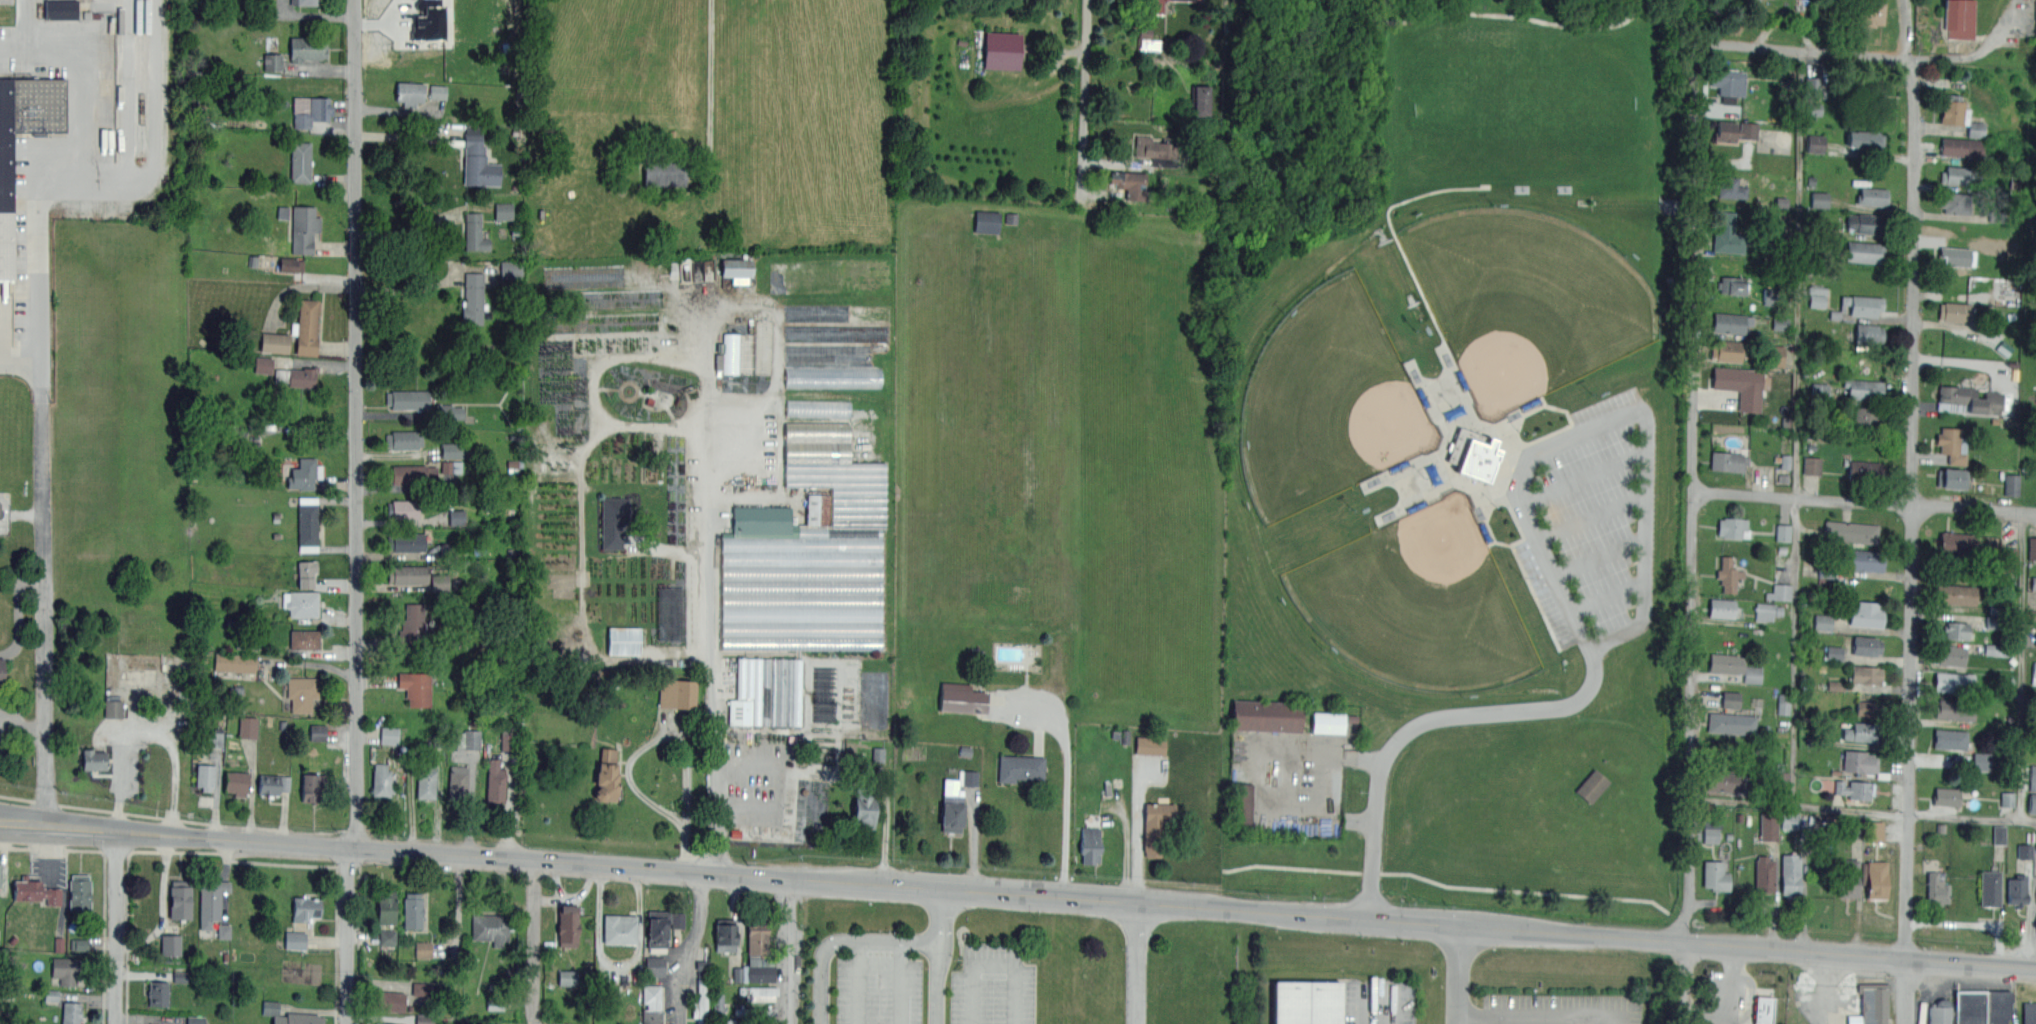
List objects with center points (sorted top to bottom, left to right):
building: (1190, 0)
building: (304, 2)
building: (1151, 6)
building: (61, 9)
park: (1527, 9)
building: (1869, 12)
building: (1958, 18)
building: (428, 20)
building: (1149, 44)
building: (307, 48)
building: (1002, 50)
road: (1978, 50)
road: (1806, 52)
building: (272, 62)
road: (710, 67)
building: (1728, 84)
building: (1866, 87)
building: (106, 88)
building: (1812, 88)
building: (409, 92)
building: (438, 92)
building: (1201, 100)
road: (1083, 103)
building: (1813, 110)
building: (314, 112)
building: (1958, 115)
building: (1736, 131)
building: (1865, 140)
building: (1816, 143)
building: (1963, 148)
building: (1155, 150)
building: (477, 159)
building: (300, 161)
building: (665, 173)
road: (65, 174)
building: (1957, 175)
building: (1130, 184)
building: (1730, 187)
building: (1873, 197)
building: (1820, 199)
building: (1955, 203)
building: (6, 207)
building: (503, 211)
building: (987, 221)
building: (1866, 223)
building: (304, 228)
building: (475, 232)
building: (1728, 235)
building: (1864, 251)
building: (1954, 257)
building: (291, 264)
building: (737, 270)
building: (512, 272)
building: (1732, 284)
road: (406, 286)
building: (1817, 296)
building: (474, 298)
building: (1863, 304)
park: (1528, 305)
building: (1953, 311)
building: (1730, 322)
building: (306, 327)
building: (1868, 333)
building: (274, 342)
building: (1726, 350)
building: (854, 352)
building: (728, 354)
building: (753, 356)
building: (1776, 356)
building: (263, 365)
building: (297, 375)
building: (833, 377)
building: (1739, 385)
building: (1862, 389)
building: (408, 398)
building: (1969, 400)
park: (1333, 404)
building: (818, 408)
building: (450, 412)
building: (1867, 415)
road: (1599, 421)
road: (356, 424)
building: (404, 439)
building: (1952, 445)
building: (452, 450)
building: (1477, 459)
building: (1727, 461)
building: (1812, 465)
building: (1865, 470)
building: (305, 473)
building: (412, 473)
building: (1951, 479)
building: (2012, 485)
road: (1693, 490)
road: (1864, 503)
road: (1914, 504)
building: (404, 508)
building: (456, 515)
building: (613, 521)
building: (307, 523)
building: (1732, 528)
building: (1851, 531)
building: (1783, 533)
building: (407, 542)
building: (1955, 545)
building: (2032, 549)
building: (808, 552)
building: (2011, 557)
building: (1865, 560)
building: (305, 573)
building: (408, 573)
building: (1729, 574)
building: (2033, 583)
building: (440, 584)
building: (1780, 592)
building: (1956, 595)
building: (301, 602)
park: (1421, 602)
building: (1721, 608)
road: (712, 609)
road: (18, 611)
building: (1767, 611)
road: (44, 613)
building: (671, 614)
building: (1866, 614)
building: (1823, 622)
building: (413, 626)
building: (1959, 632)
building: (304, 639)
building: (624, 641)
building: (2035, 644)
building: (1866, 646)
building: (1994, 650)
road: (1795, 651)
building: (1834, 653)
building: (1949, 655)
building: (235, 662)
building: (1725, 664)
road: (2022, 664)
building: (1, 671)
building: (138, 672)
building: (2034, 673)
building: (1753, 674)
building: (1866, 674)
building: (1953, 682)
building: (1836, 685)
building: (416, 687)
building: (767, 691)
building: (301, 693)
building: (677, 694)
building: (961, 699)
building: (1730, 700)
building: (1783, 705)
building: (113, 708)
building: (1865, 709)
building: (1955, 710)
building: (1266, 716)
road: (1433, 721)
road: (22, 723)
building: (1328, 723)
building: (1731, 723)
parking lot: (12, 725)
building: (248, 727)
building: (1862, 731)
road: (146, 732)
building: (317, 733)
building: (389, 735)
building: (215, 737)
building: (506, 738)
building: (469, 739)
building: (1950, 739)
building: (1150, 745)
road: (634, 754)
building: (93, 759)
road: (773, 762)
building: (1982, 762)
building: (1862, 763)
building: (1020, 767)
building: (606, 775)
building: (205, 776)
building: (2031, 777)
building: (968, 778)
building: (1782, 779)
building: (382, 780)
building: (426, 780)
building: (495, 781)
building: (1723, 781)
building: (235, 782)
building: (458, 782)
building: (272, 784)
building: (311, 786)
building: (1592, 786)
building: (1856, 789)
road: (1066, 791)
building: (1946, 797)
road: (471, 799)
building: (2007, 799)
building: (1244, 803)
road: (1799, 804)
building: (2032, 804)
road: (510, 806)
building: (863, 807)
building: (951, 807)
road: (747, 813)
road: (1972, 816)
building: (1790, 821)
road: (23, 824)
building: (1768, 826)
building: (1154, 827)
road: (885, 830)
road: (1139, 832)
building: (1711, 832)
building: (1875, 832)
building: (1999, 834)
road: (975, 840)
road: (1375, 841)
building: (1089, 845)
building: (2025, 851)
building: (0, 870)
building: (1764, 874)
building: (1790, 874)
building: (1714, 875)
building: (1847, 877)
building: (1875, 879)
building: (1990, 888)
building: (1936, 889)
building: (2017, 889)
building: (36, 891)
building: (79, 892)
road: (1041, 896)
building: (179, 900)
building: (211, 901)
building: (386, 905)
building: (304, 908)
building: (411, 909)
building: (678, 920)
road: (1968, 923)
building: (568, 924)
road: (116, 927)
building: (491, 927)
building: (619, 928)
building: (657, 930)
building: (223, 931)
building: (724, 934)
road: (348, 936)
building: (387, 937)
road: (840, 938)
building: (295, 940)
building: (757, 941)
road: (527, 943)
building: (81, 944)
building: (170, 945)
road: (687, 947)
building: (437, 949)
road: (791, 951)
road: (936, 956)
building: (702, 963)
road: (1137, 963)
road: (995, 964)
building: (655, 965)
building: (65, 970)
building: (760, 972)
road: (1458, 975)
building: (568, 978)
road: (1681, 979)
road: (859, 981)
road: (900, 981)
road: (1826, 984)
parking lot: (993, 986)
road: (1905, 986)
building: (757, 989)
parking lot: (880, 989)
building: (158, 993)
parking lot: (1825, 996)
parking lot: (1729, 997)
building: (386, 1000)
building: (701, 1001)
building: (1307, 1001)
parking lot: (1377, 1001)
building: (718, 1003)
building: (651, 1004)
road: (1363, 1004)
road: (1731, 1004)
building: (1871, 1004)
building: (1997, 1007)
parking lot: (1563, 1008)
building: (1763, 1008)
building: (1959, 1009)
building: (755, 1011)
building: (70, 1012)
building: (2029, 1013)
building: (298, 1018)
road: (1540, 1018)
building: (426, 1019)
building: (196, 1020)
building: (725, 1021)
building: (761, 1022)
building: (382, 1023)

